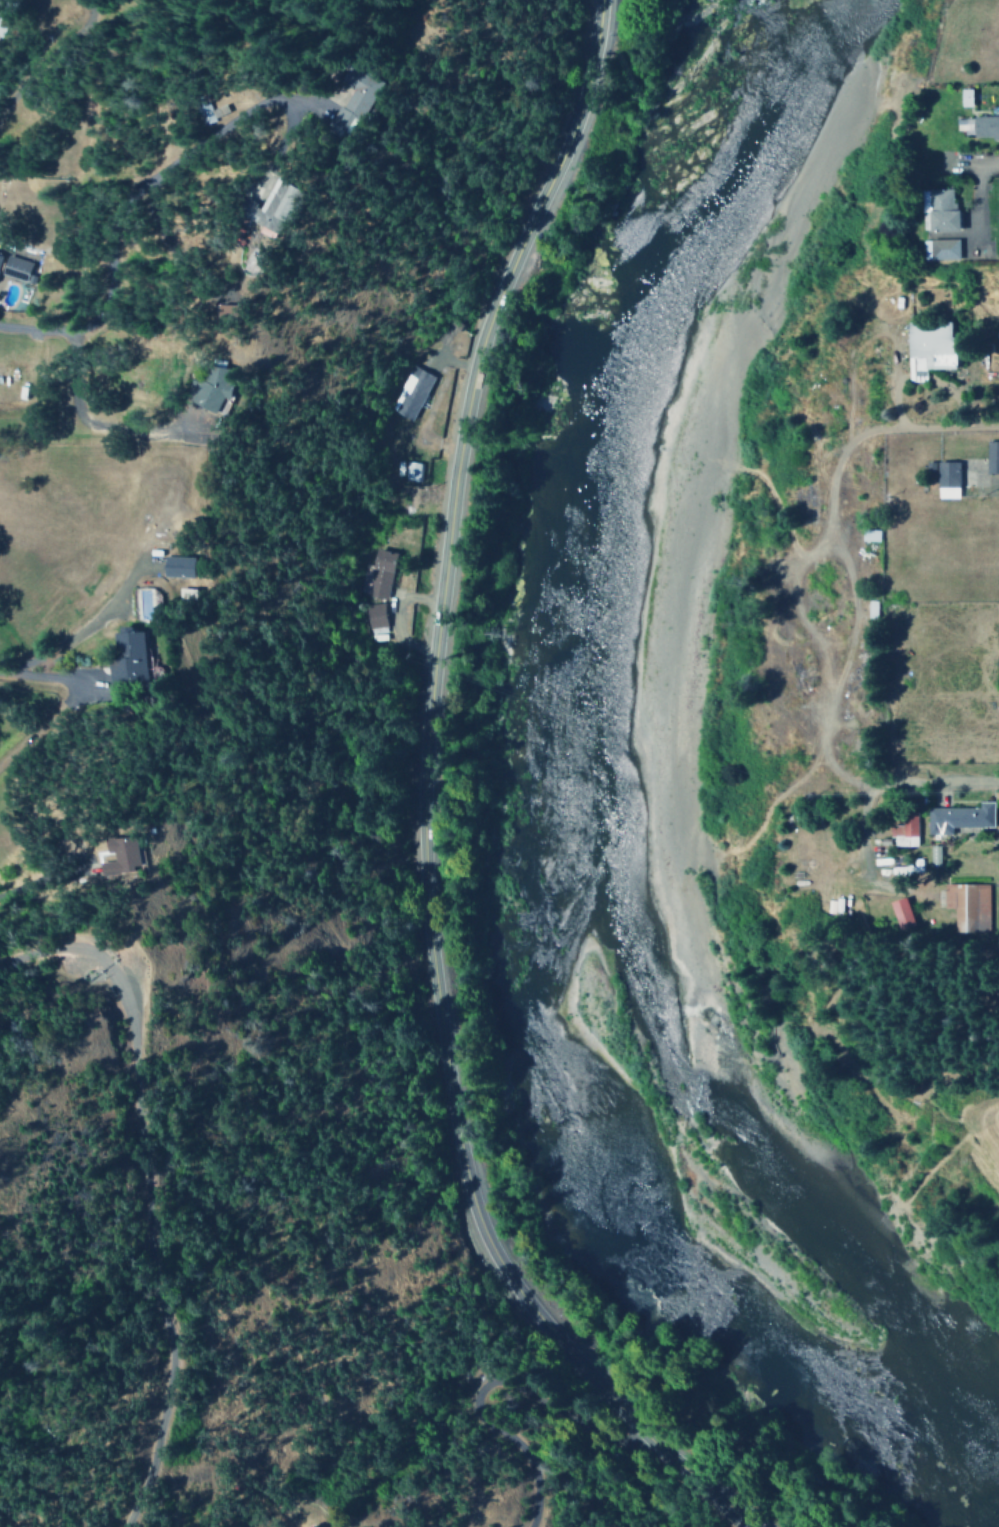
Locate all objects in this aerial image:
building: (0, 0)
road: (42, 62)
building: (335, 91)
building: (964, 97)
road: (302, 104)
building: (194, 107)
building: (984, 126)
road: (980, 162)
road: (133, 194)
building: (254, 203)
building: (937, 209)
building: (939, 249)
building: (13, 268)
building: (215, 308)
building: (209, 386)
building: (411, 392)
road: (104, 429)
road: (918, 430)
building: (991, 456)
building: (410, 471)
building: (945, 479)
road: (993, 481)
building: (868, 535)
building: (176, 567)
building: (379, 574)
road: (852, 603)
building: (374, 614)
building: (127, 656)
road: (43, 684)
road: (50, 732)
road: (907, 777)
river: (548, 808)
road: (425, 810)
building: (958, 818)
road: (755, 829)
building: (904, 831)
building: (122, 853)
building: (933, 856)
road: (47, 882)
building: (966, 906)
road: (146, 1193)

